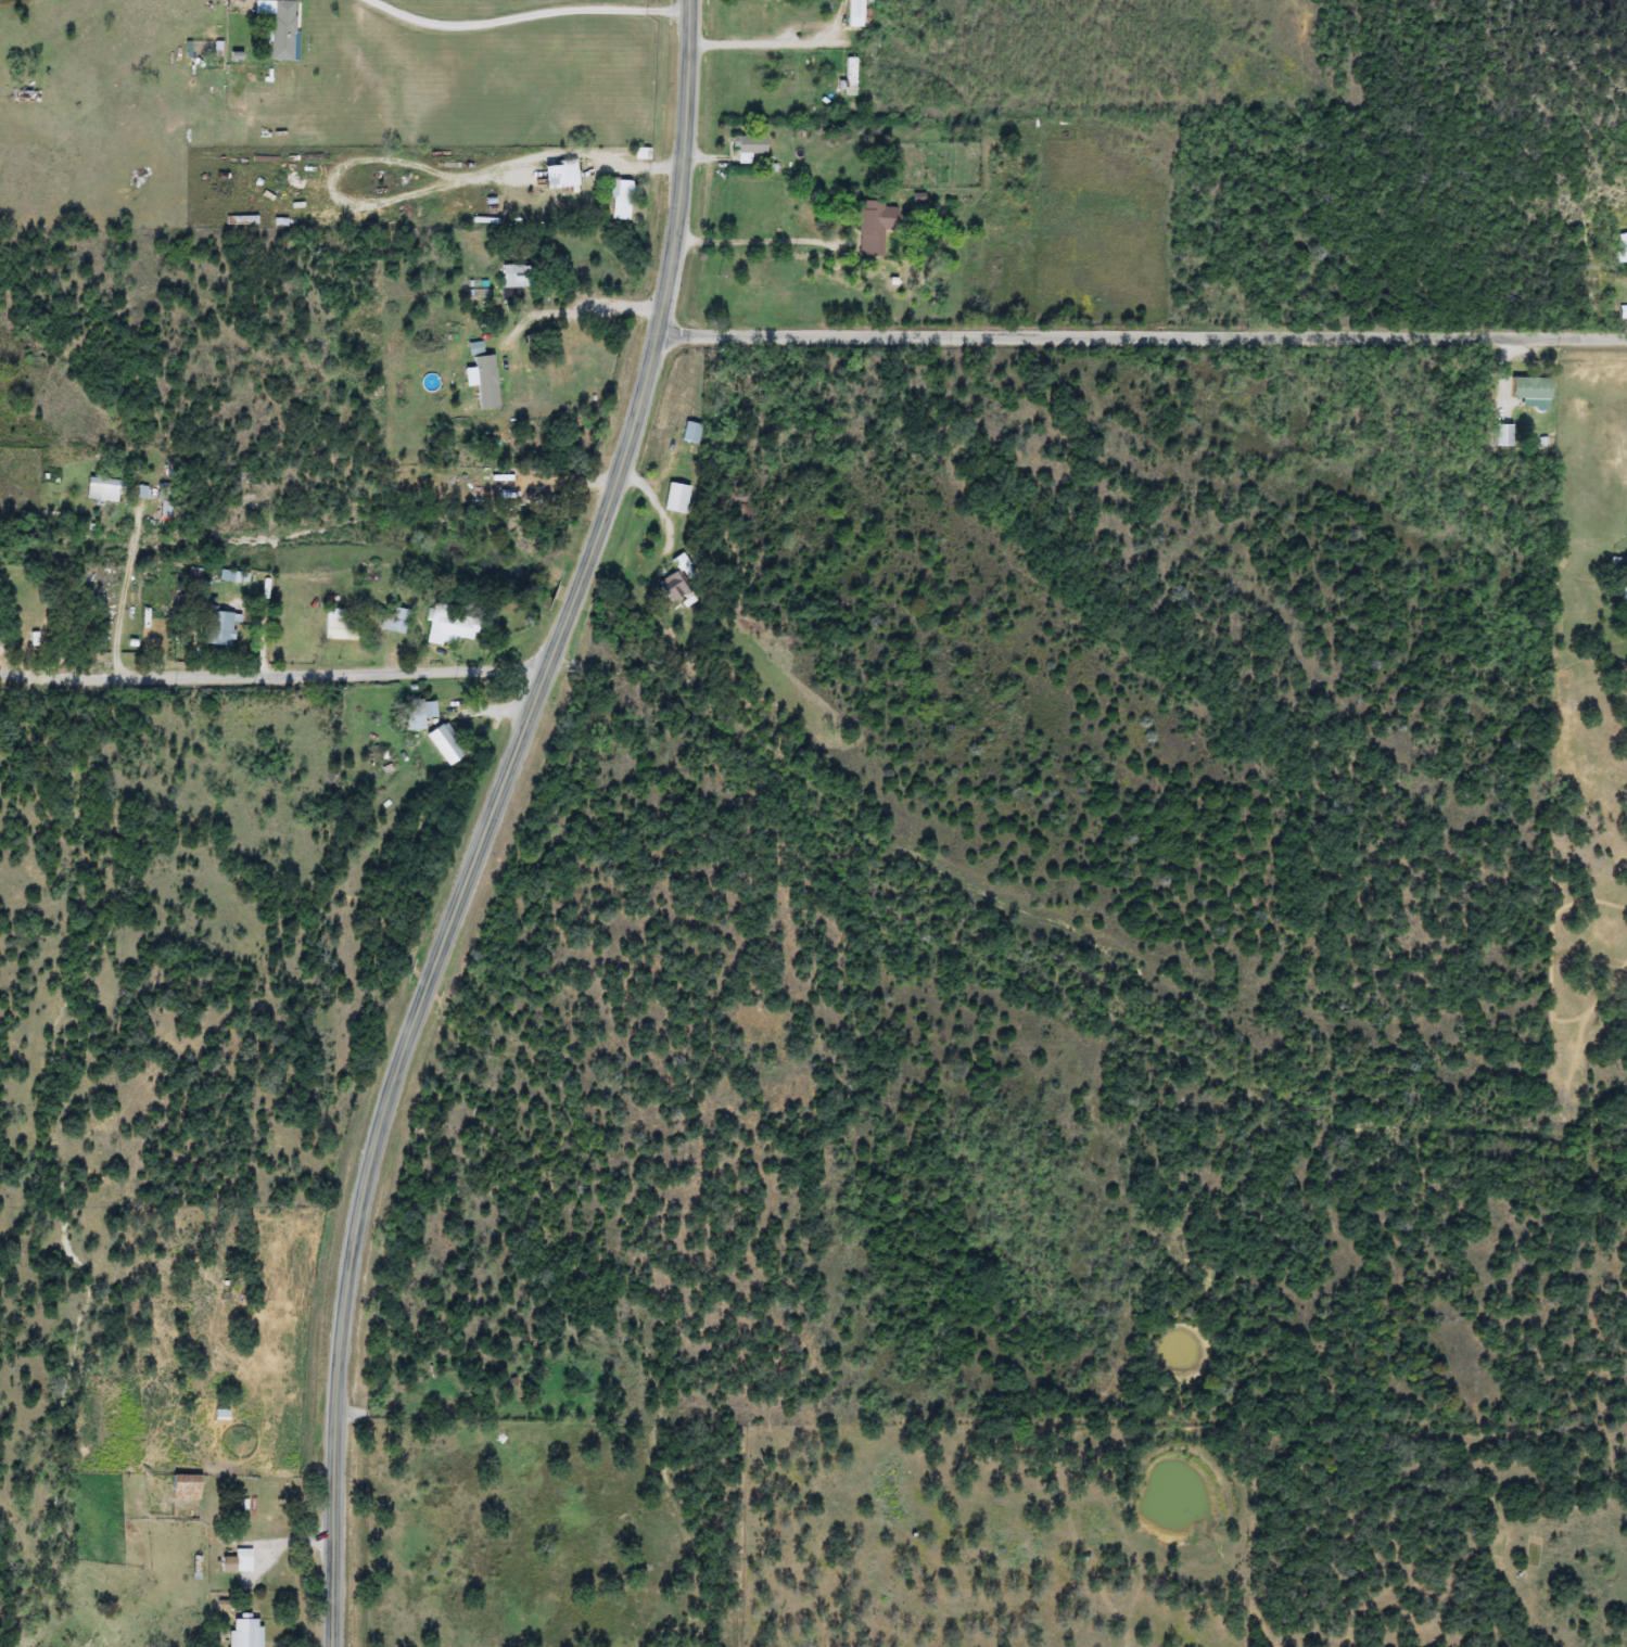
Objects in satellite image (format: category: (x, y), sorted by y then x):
road: (530, 13)
building: (856, 13)
building: (280, 26)
road: (776, 44)
building: (851, 76)
building: (750, 146)
road: (559, 151)
road: (339, 152)
building: (561, 175)
building: (621, 200)
building: (874, 226)
road: (767, 235)
building: (1623, 247)
building: (514, 282)
road: (582, 302)
road: (1145, 334)
building: (1533, 392)
building: (1503, 435)
building: (511, 482)
building: (106, 489)
building: (165, 501)
building: (228, 576)
road: (129, 587)
building: (674, 587)
building: (1624, 596)
building: (394, 620)
building: (344, 625)
building: (450, 626)
building: (219, 628)
road: (275, 675)
building: (420, 715)
building: (446, 745)
road: (492, 820)
building: (186, 1495)
building: (237, 1563)
building: (245, 1632)

